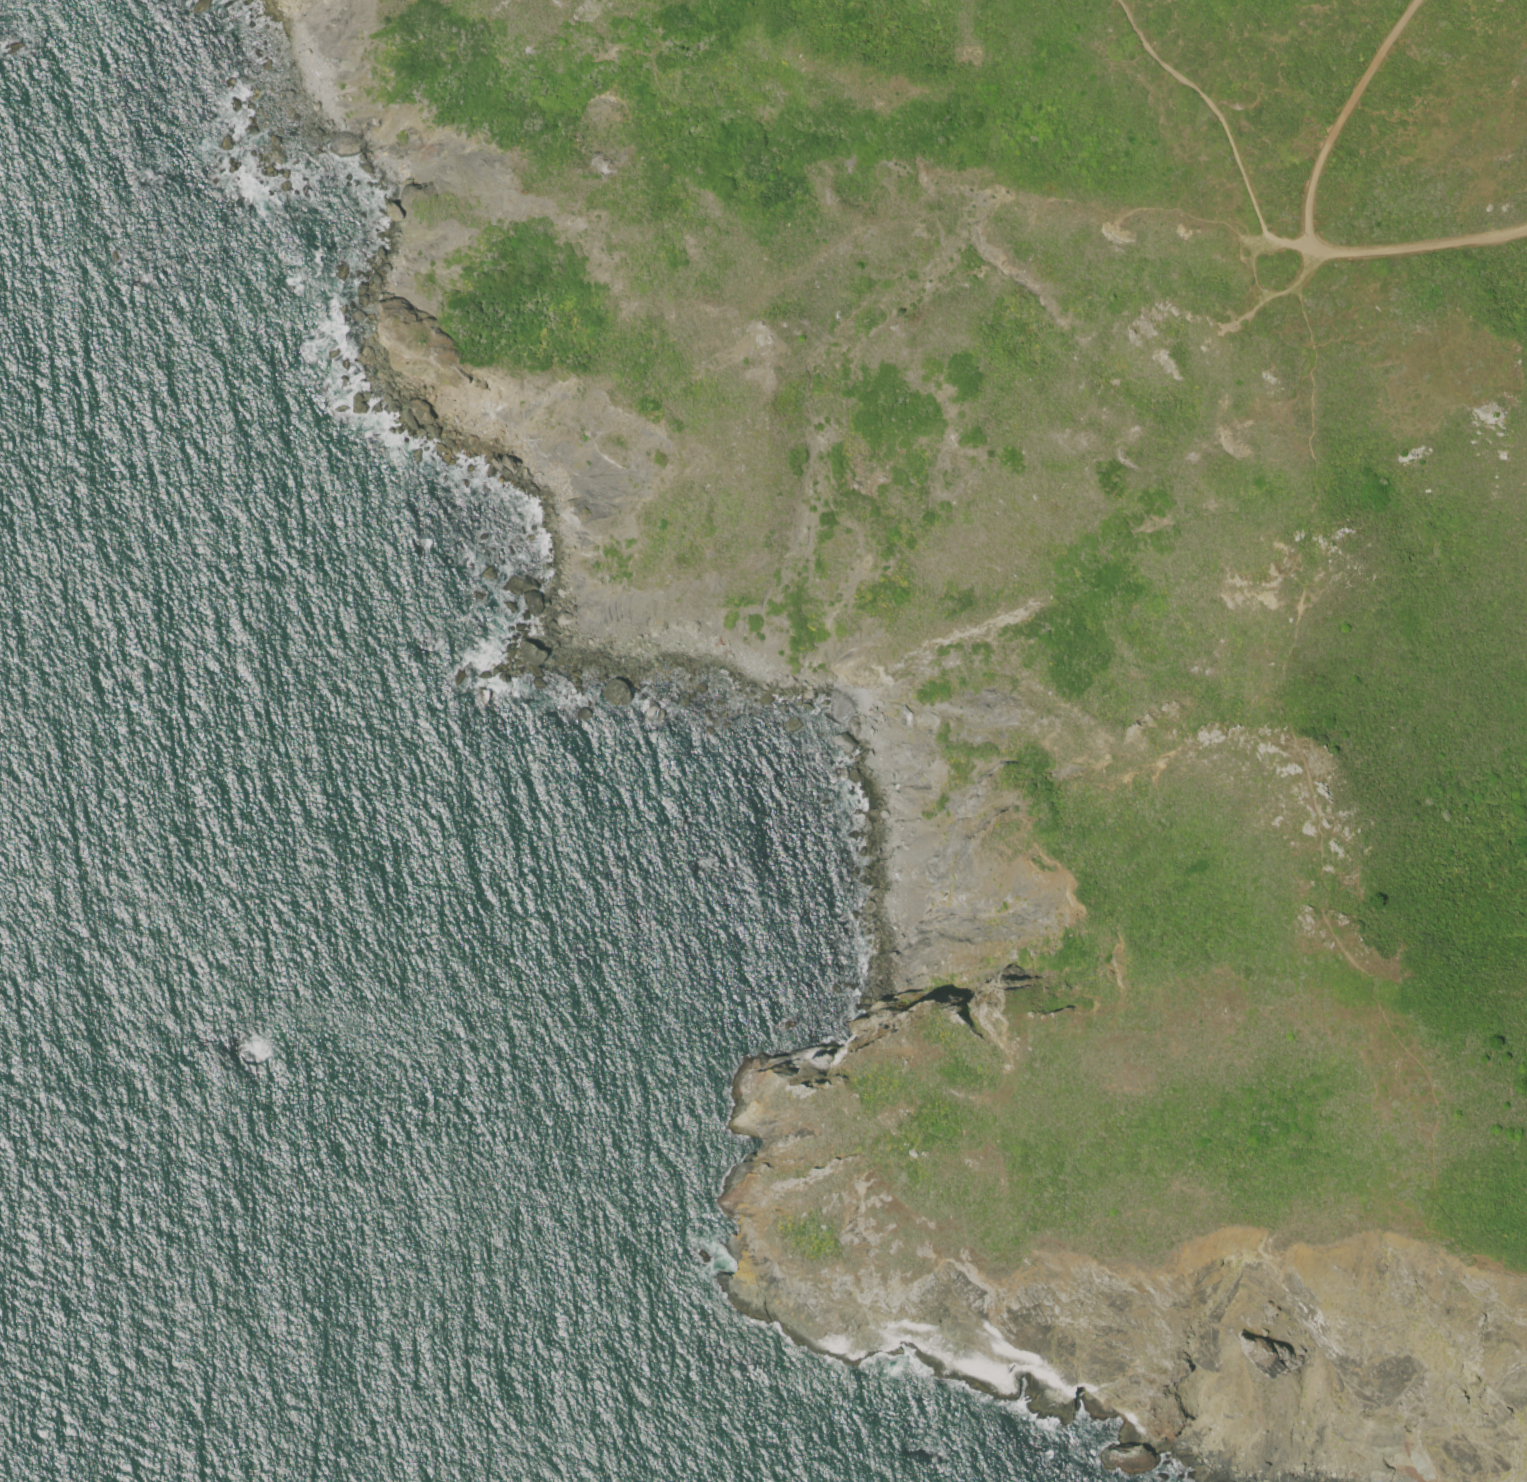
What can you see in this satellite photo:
road: (1343, 117)
road: (1224, 127)
road: (1423, 246)
road: (1257, 308)
road: (1314, 799)

